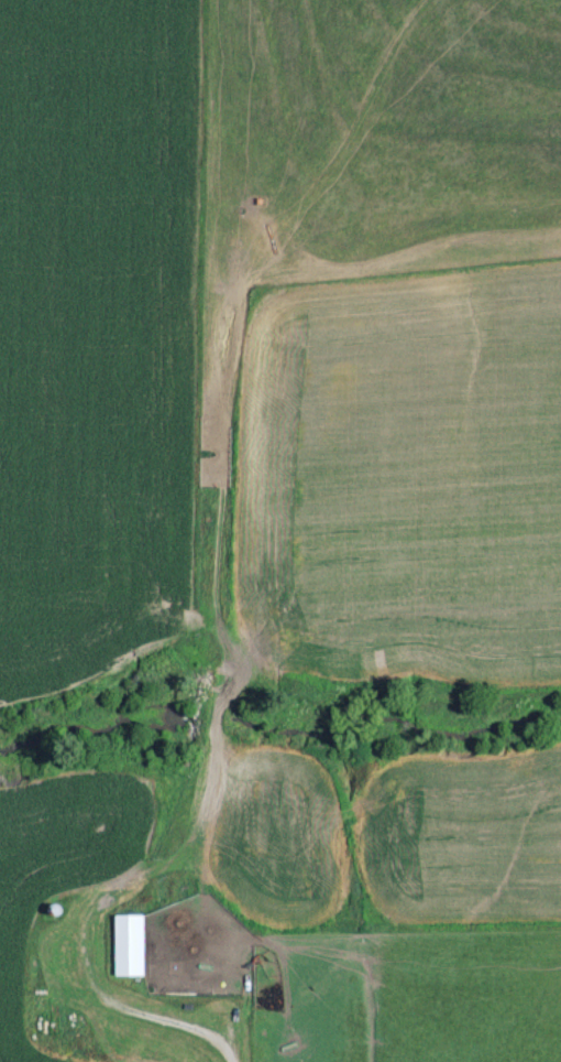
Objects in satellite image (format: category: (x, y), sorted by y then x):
building: (128, 943)

